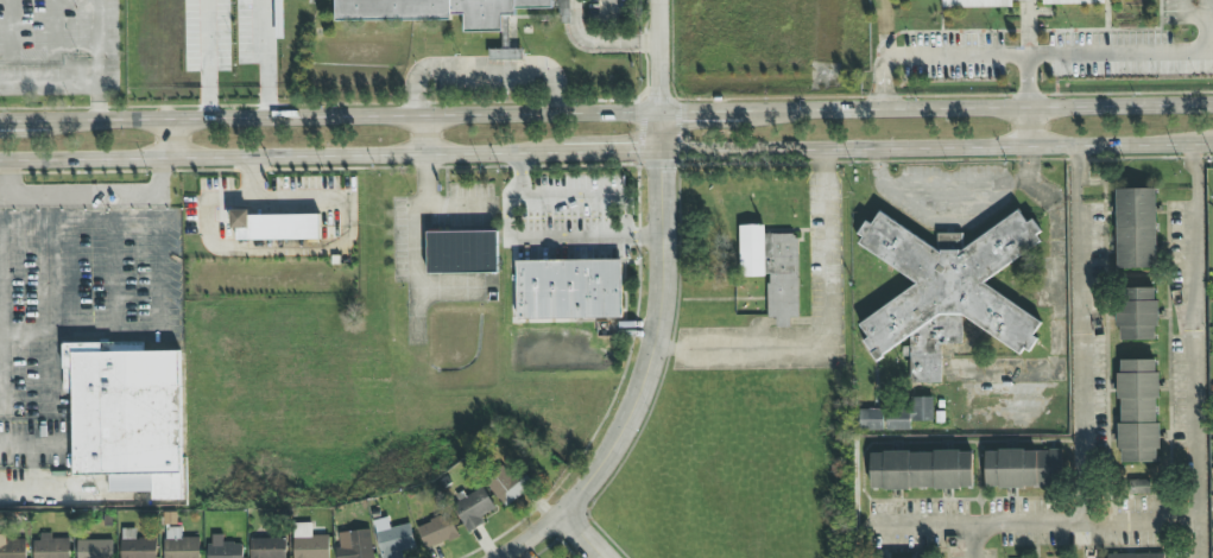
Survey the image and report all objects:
building: (1073, 2)
building: (977, 4)
building: (446, 11)
road: (607, 12)
road: (1186, 18)
road: (1206, 26)
road: (883, 28)
road: (12, 31)
road: (55, 31)
road: (596, 44)
building: (505, 55)
road: (1022, 56)
road: (207, 59)
road: (264, 59)
road: (482, 70)
road: (1026, 82)
road: (93, 89)
road: (1119, 106)
road: (512, 114)
road: (1026, 127)
road: (417, 134)
road: (164, 140)
road: (1145, 145)
road: (1053, 147)
road: (844, 148)
road: (611, 151)
road: (280, 156)
road: (11, 179)
road: (952, 185)
road: (82, 195)
road: (583, 195)
building: (274, 226)
building: (1136, 229)
road: (541, 237)
building: (752, 251)
building: (461, 252)
road: (661, 270)
building: (782, 278)
building: (569, 290)
building: (946, 291)
building: (1137, 313)
road: (27, 329)
road: (825, 332)
road: (1080, 335)
road: (55, 347)
building: (121, 347)
road: (1192, 350)
building: (1138, 412)
building: (897, 417)
building: (126, 418)
road: (190, 423)
building: (1023, 469)
building: (921, 470)
building: (510, 484)
building: (1141, 487)
building: (473, 508)
road: (1030, 524)
building: (437, 532)
road: (533, 538)
road: (588, 538)
building: (393, 539)
road: (973, 541)
building: (309, 543)
building: (135, 545)
building: (179, 545)
building: (355, 545)
building: (51, 547)
building: (13, 549)
building: (94, 549)
building: (223, 549)
building: (267, 549)
building: (1137, 556)

